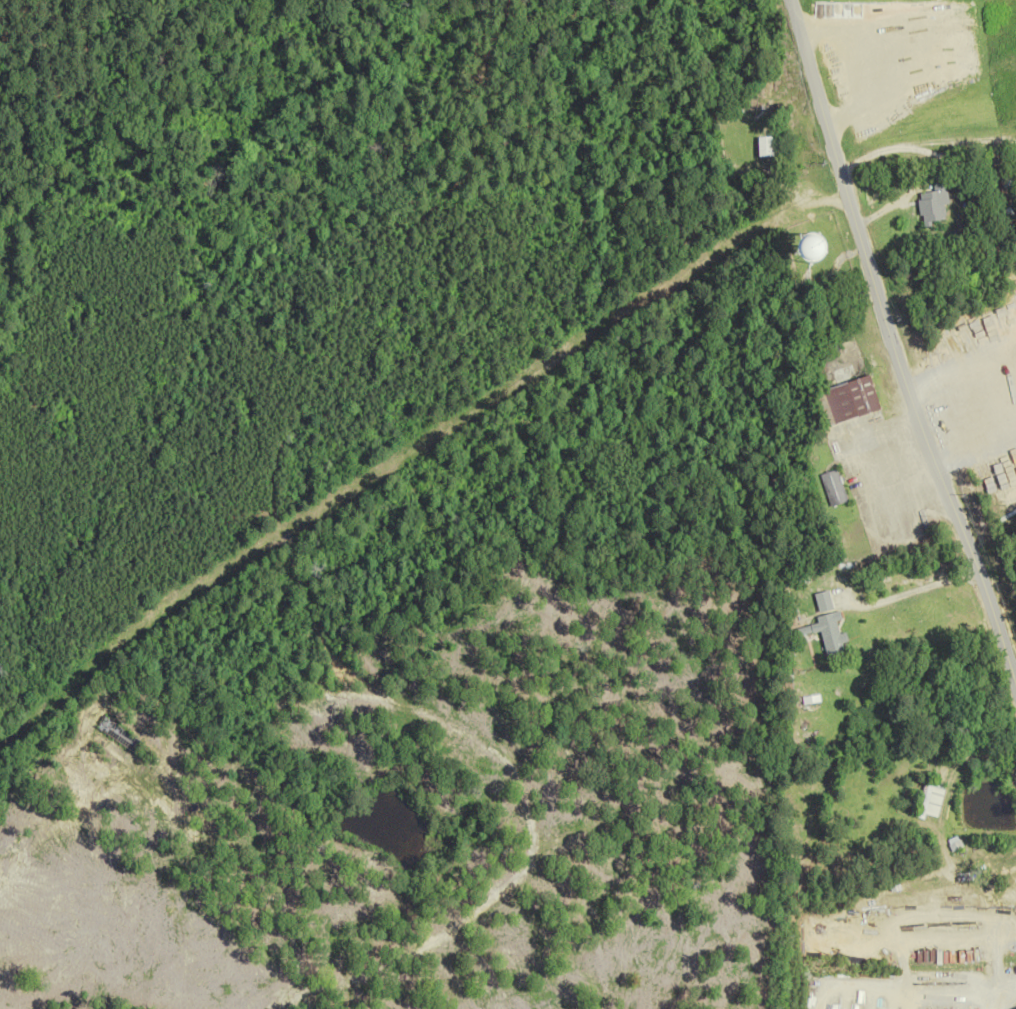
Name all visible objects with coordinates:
road: (923, 142)
building: (765, 146)
road: (941, 159)
building: (933, 204)
building: (991, 220)
road: (893, 348)
building: (843, 361)
building: (852, 399)
building: (833, 488)
road: (908, 592)
building: (832, 636)
building: (121, 735)
building: (933, 799)

